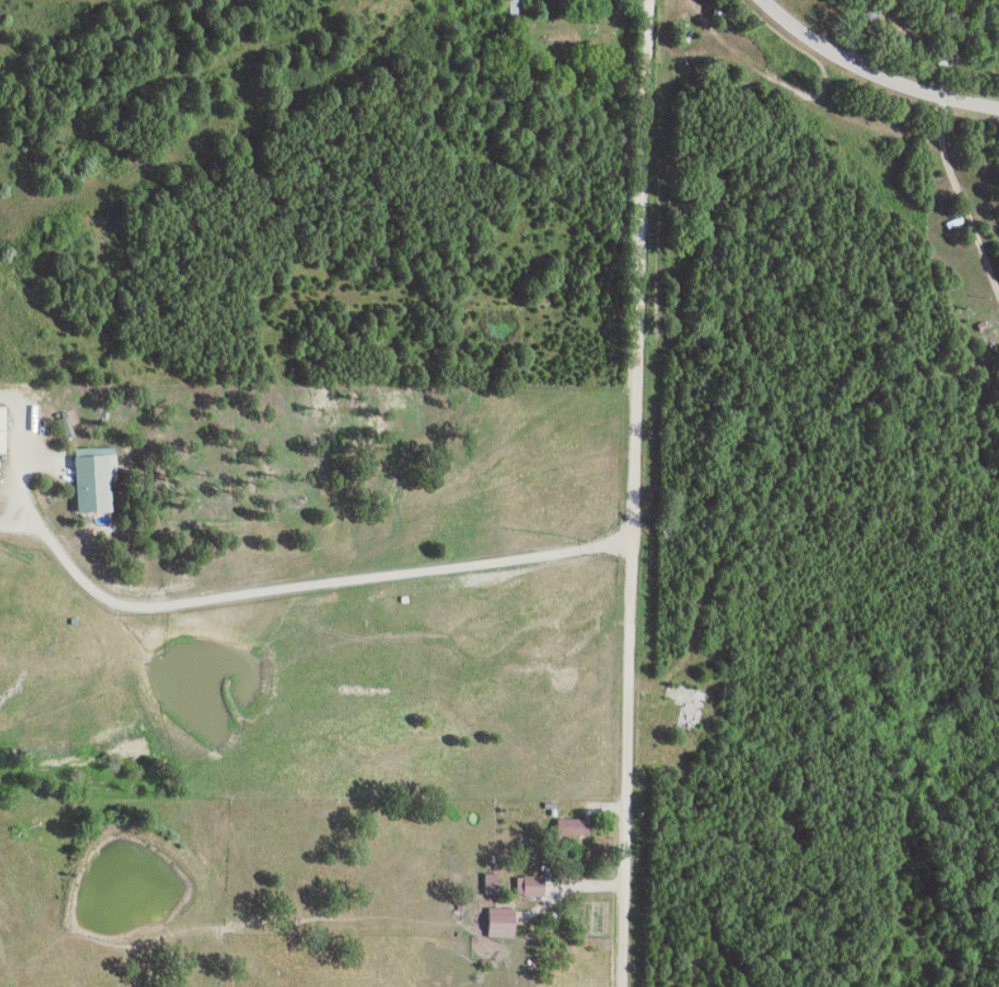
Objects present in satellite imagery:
road: (872, 72)
road: (962, 180)
road: (637, 343)
building: (69, 427)
building: (3, 429)
road: (24, 435)
building: (95, 477)
road: (780, 483)
road: (15, 508)
road: (300, 586)
building: (574, 827)
road: (626, 837)
building: (492, 883)
building: (531, 885)
building: (502, 922)

